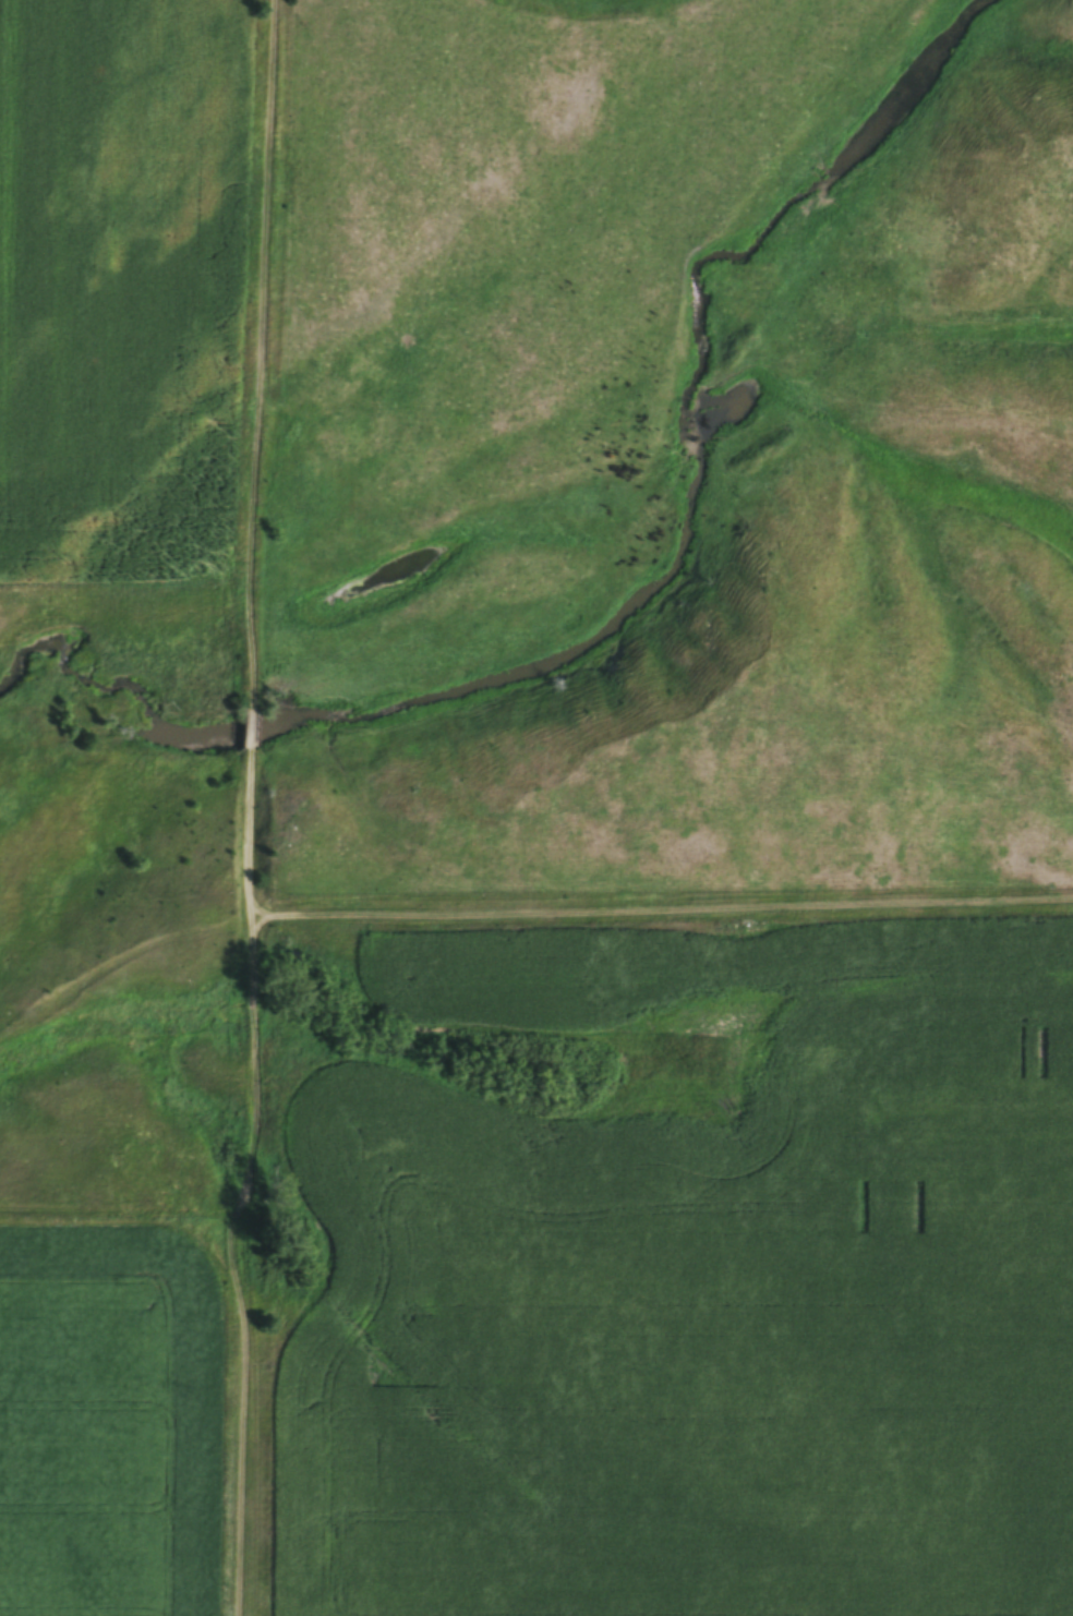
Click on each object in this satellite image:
road: (264, 807)
road: (667, 917)

